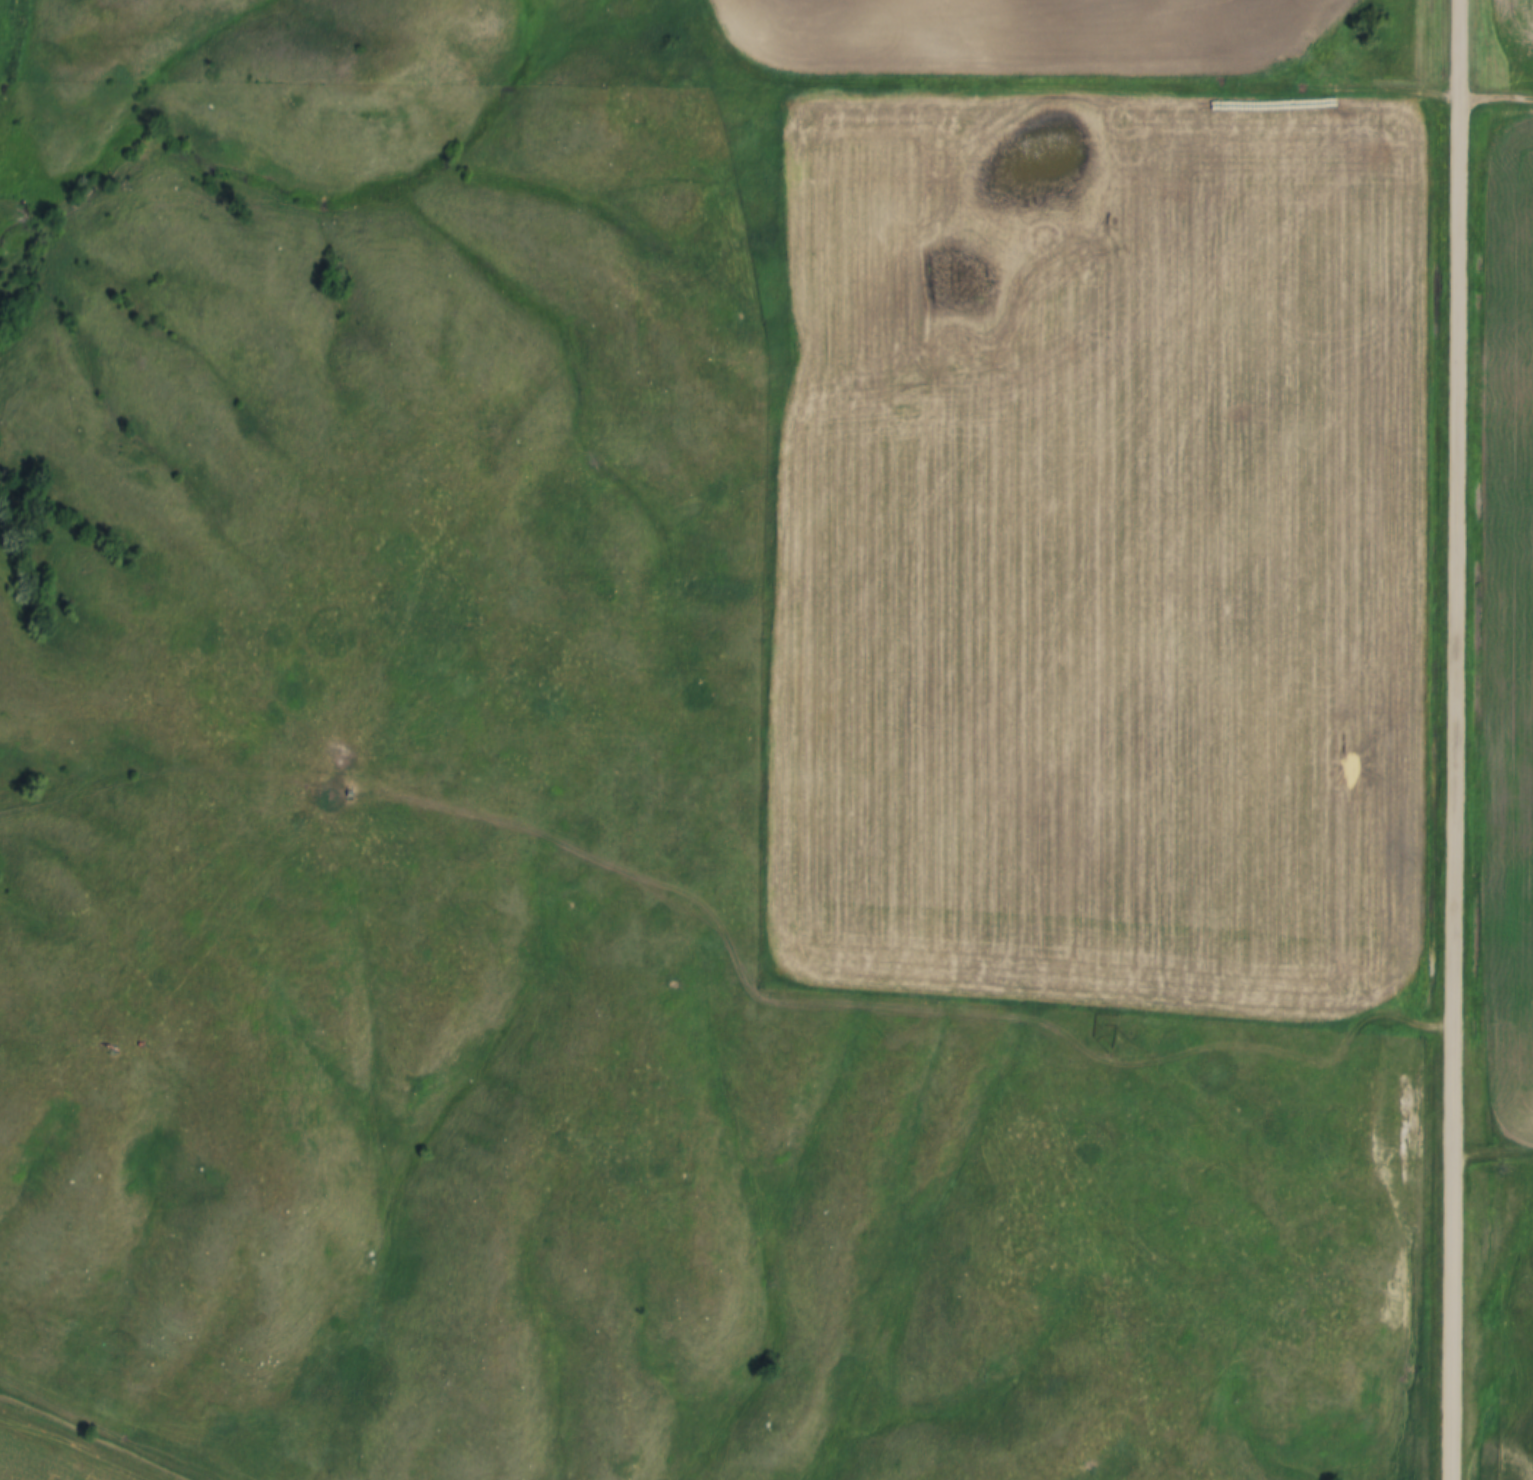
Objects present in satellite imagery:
road: (1495, 94)
road: (1454, 739)

